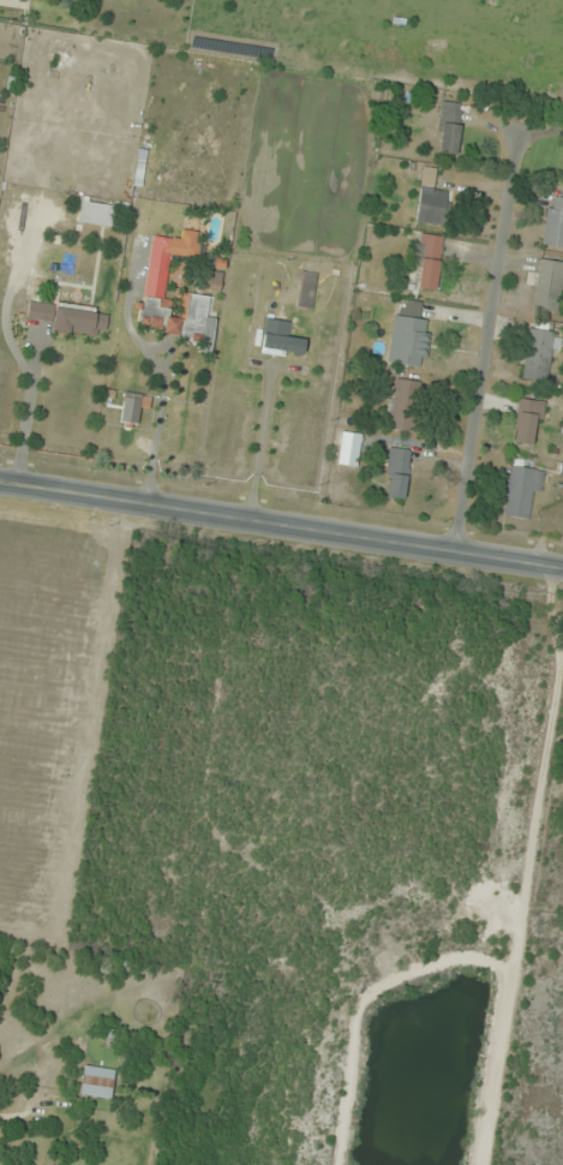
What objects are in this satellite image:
building: (449, 129)
building: (431, 199)
building: (95, 215)
building: (553, 223)
building: (427, 262)
building: (156, 276)
building: (211, 286)
building: (549, 287)
building: (306, 291)
building: (70, 317)
building: (408, 336)
building: (282, 343)
road: (487, 343)
building: (540, 352)
building: (405, 406)
building: (527, 422)
road: (547, 470)
building: (396, 473)
building: (521, 490)
road: (281, 522)
road: (508, 700)
building: (92, 1083)

